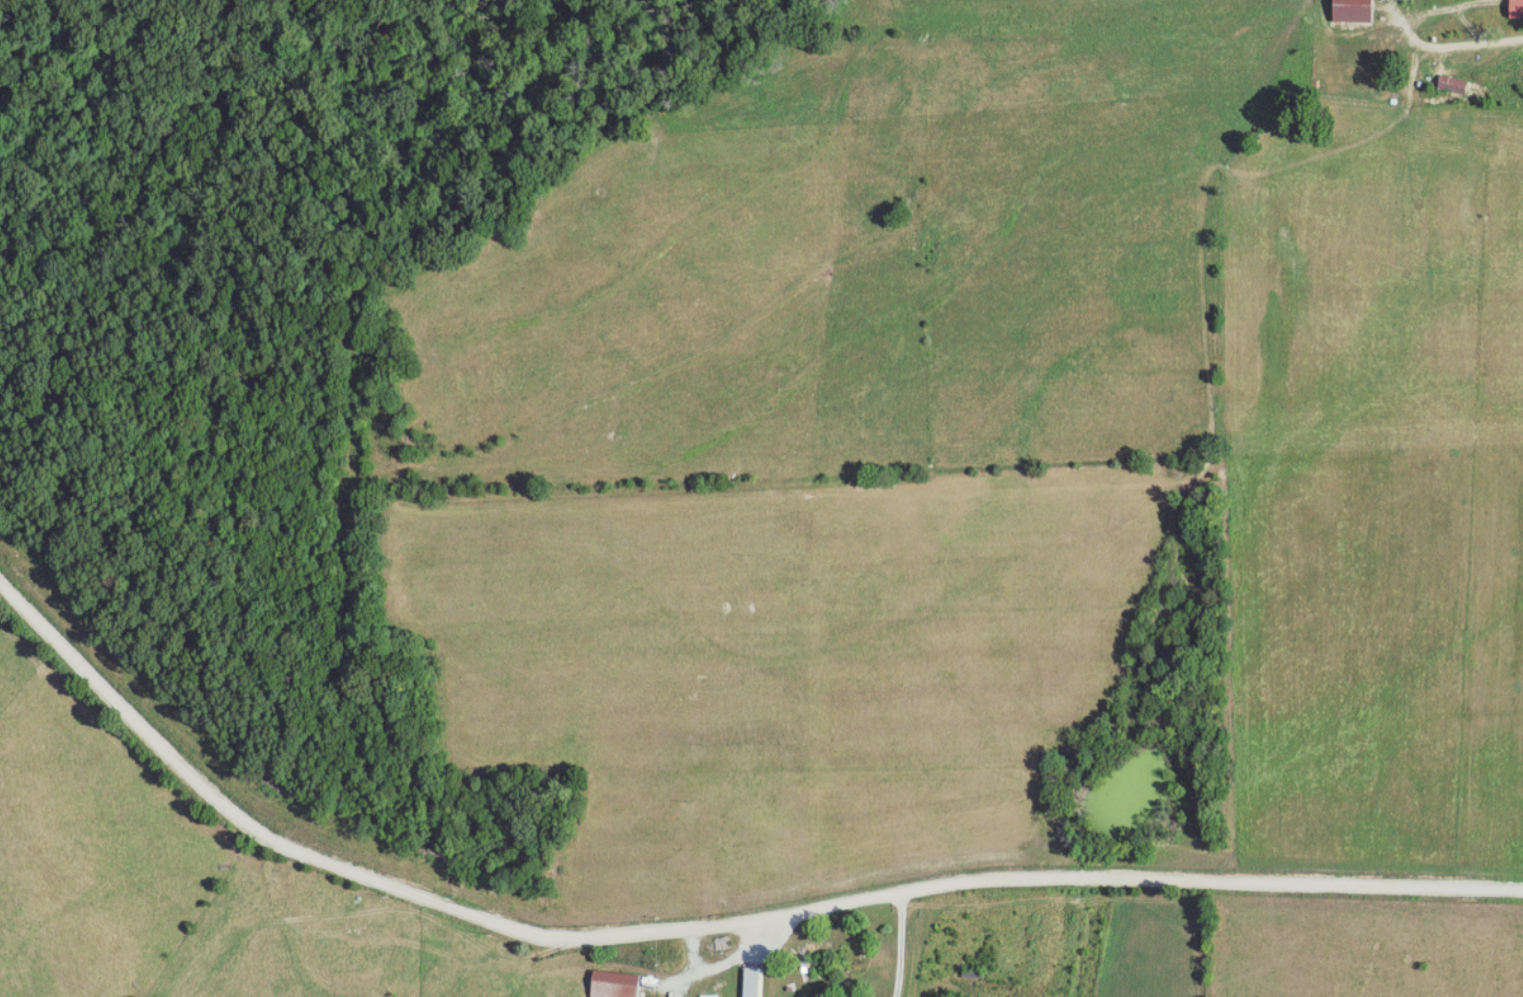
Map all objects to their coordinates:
building: (1514, 8)
building: (1348, 11)
road: (1449, 46)
road: (703, 929)
road: (379, 941)
road: (904, 944)
road: (720, 961)
building: (759, 981)
building: (620, 984)

